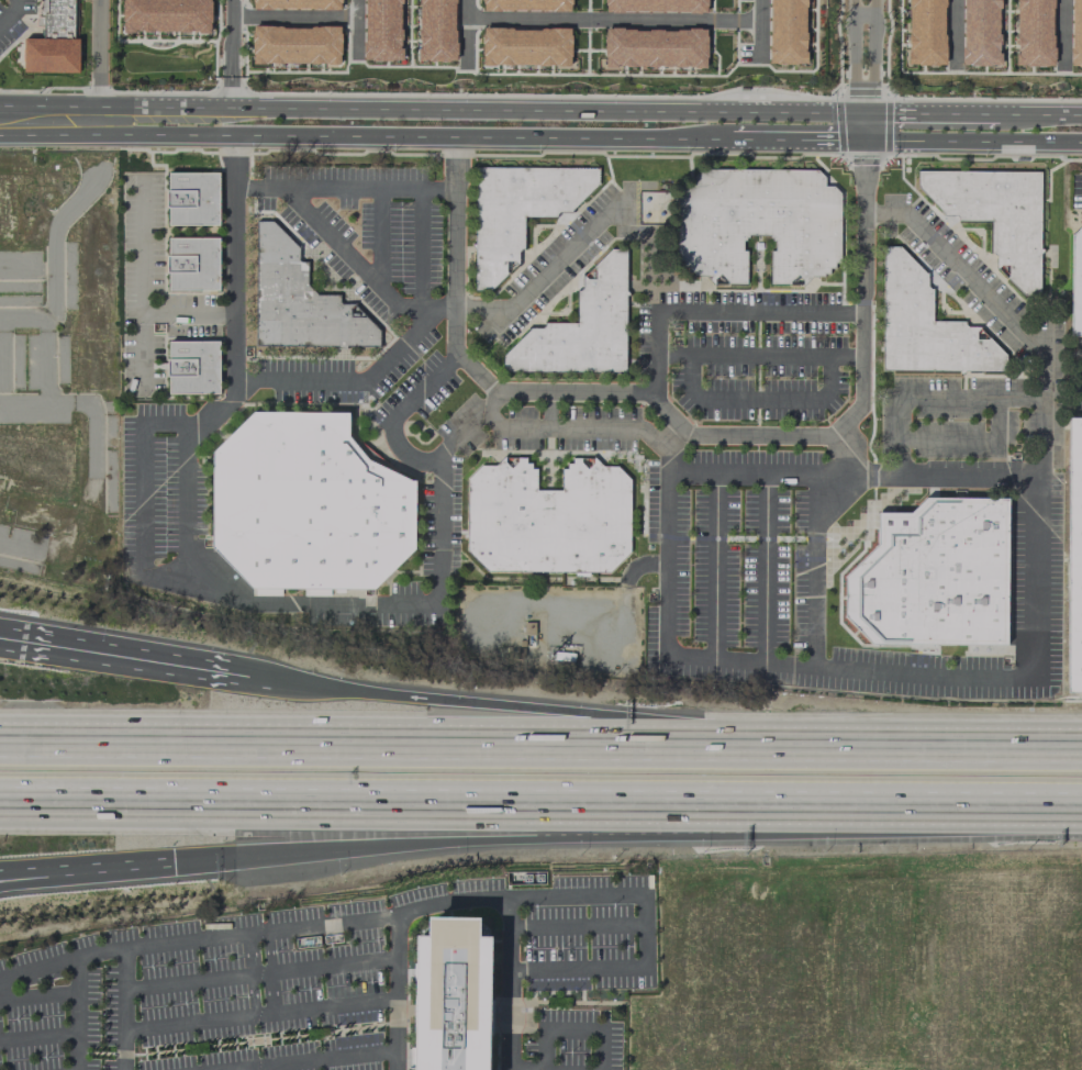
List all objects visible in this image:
building: (297, 4)
building: (526, 5)
building: (655, 5)
road: (11, 14)
road: (863, 14)
building: (165, 15)
road: (301, 15)
road: (613, 20)
road: (760, 29)
building: (381, 30)
building: (436, 30)
road: (953, 30)
road: (1062, 30)
road: (467, 31)
building: (787, 31)
building: (926, 32)
building: (980, 32)
building: (1034, 33)
building: (1075, 33)
road: (230, 37)
building: (53, 42)
building: (295, 44)
building: (525, 46)
building: (655, 47)
road: (96, 54)
road: (854, 70)
road: (873, 70)
road: (228, 92)
road: (436, 111)
road: (936, 113)
road: (1040, 113)
road: (366, 135)
road: (797, 138)
road: (973, 140)
road: (435, 191)
building: (192, 198)
building: (517, 210)
building: (995, 214)
building: (758, 222)
road: (376, 236)
road: (419, 236)
road: (235, 258)
building: (193, 263)
road: (535, 279)
building: (1077, 282)
road: (141, 292)
building: (300, 300)
road: (716, 311)
building: (926, 326)
building: (580, 327)
road: (454, 328)
road: (140, 353)
road: (758, 356)
building: (192, 367)
road: (862, 391)
road: (759, 392)
road: (546, 393)
road: (928, 394)
road: (584, 428)
road: (468, 430)
road: (674, 436)
road: (971, 442)
road: (847, 446)
road: (926, 476)
building: (305, 504)
road: (1038, 505)
building: (547, 517)
building: (1074, 557)
road: (714, 564)
road: (765, 566)
building: (934, 575)
road: (185, 580)
building: (267, 592)
road: (371, 610)
road: (110, 653)
road: (814, 662)
road: (448, 700)
road: (336, 749)
road: (877, 753)
road: (540, 801)
road: (531, 839)
road: (47, 868)
road: (47, 876)
road: (391, 916)
road: (577, 925)
road: (645, 932)
road: (397, 957)
road: (333, 966)
road: (38, 967)
road: (253, 976)
road: (189, 982)
parking lot: (312, 982)
road: (510, 983)
road: (533, 983)
road: (126, 984)
road: (580, 984)
road: (38, 992)
building: (453, 996)
road: (524, 999)
road: (293, 1011)
road: (78, 1013)
road: (405, 1016)
road: (576, 1027)
road: (395, 1034)
road: (38, 1036)
road: (241, 1040)
road: (544, 1048)
road: (330, 1058)
road: (233, 1068)

